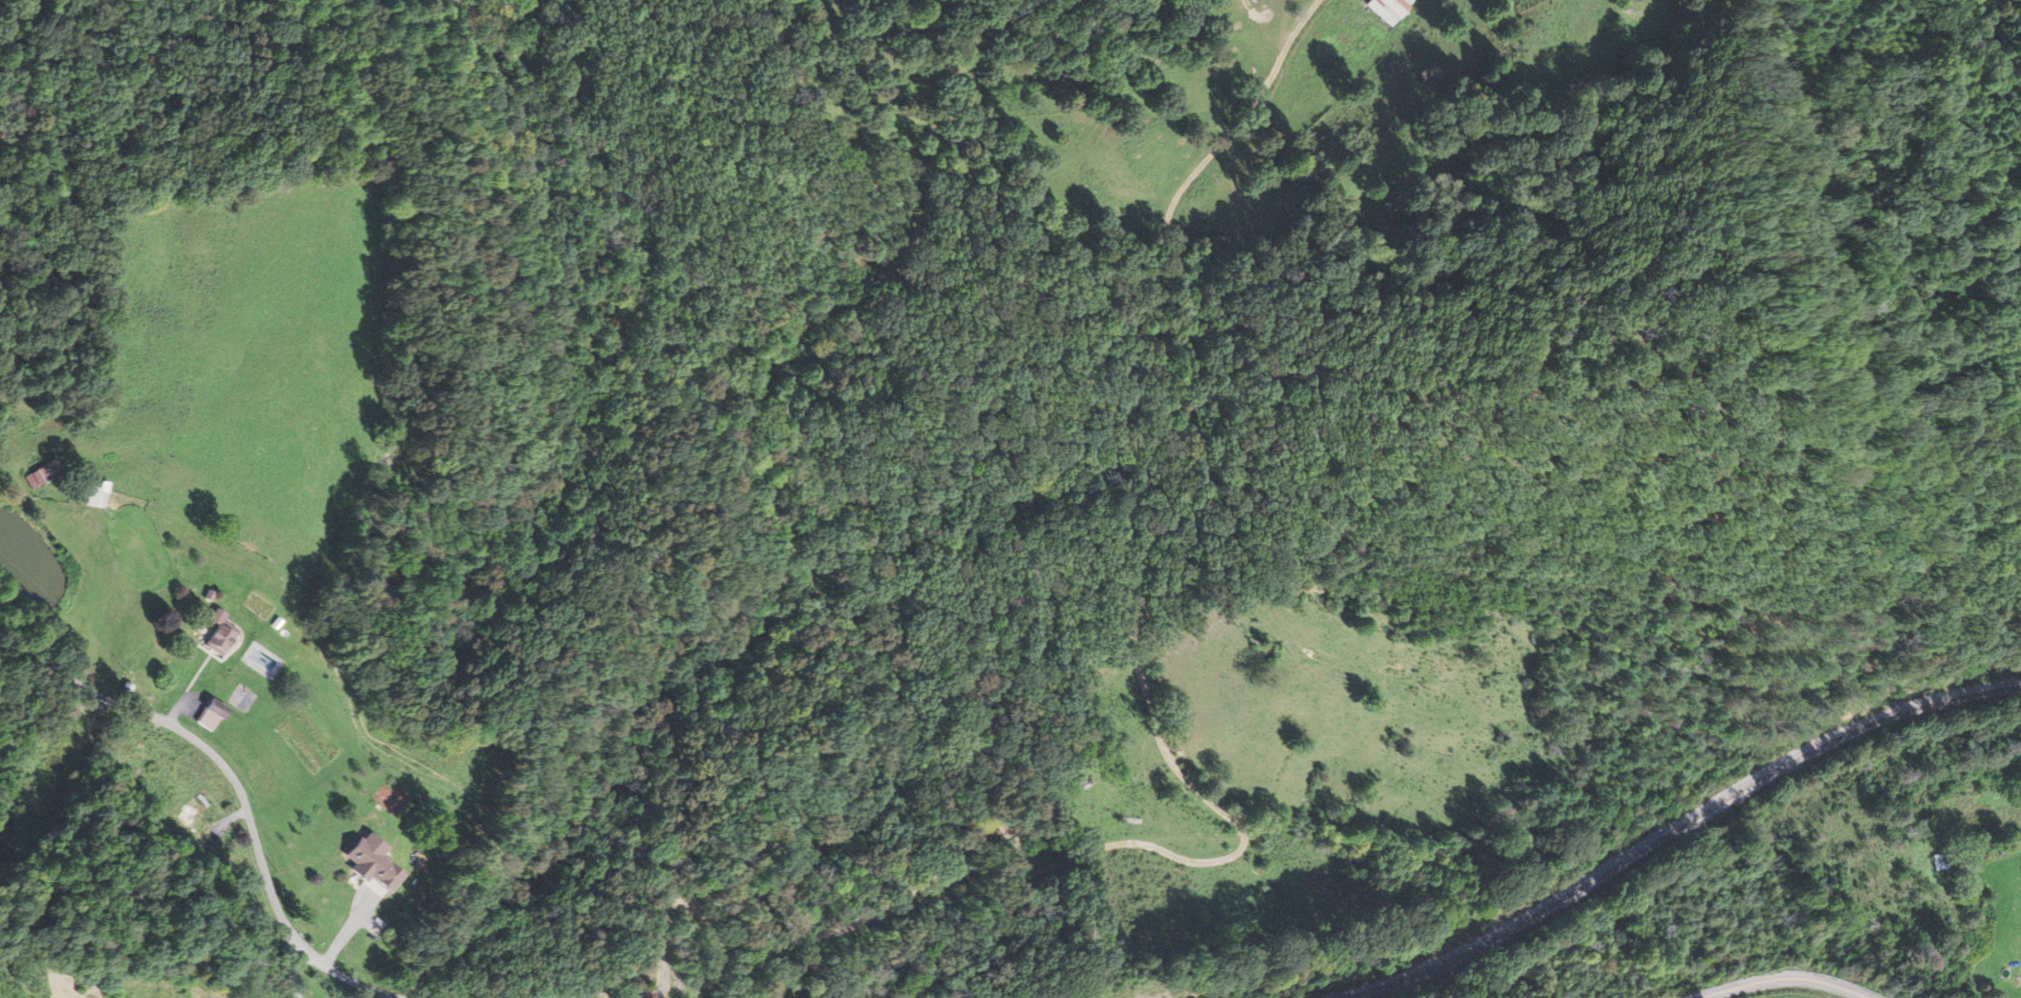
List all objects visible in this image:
building: (1385, 9)
building: (35, 473)
building: (91, 495)
building: (211, 634)
building: (207, 714)
road: (236, 782)
railway: (1680, 824)
building: (365, 862)
road: (295, 972)
road: (1780, 977)

